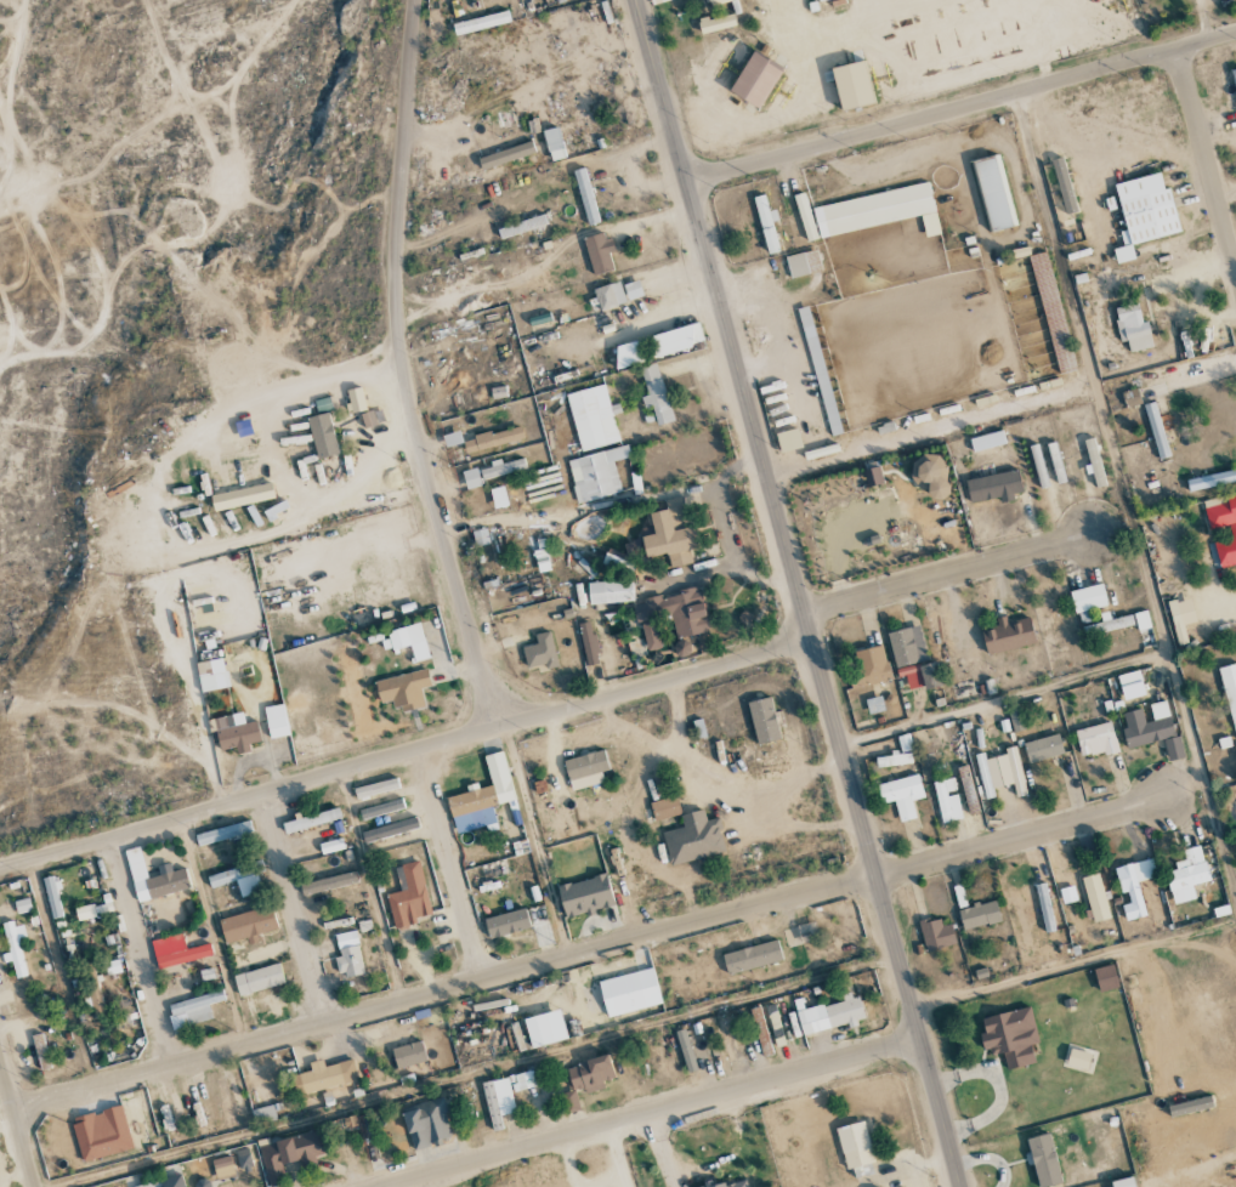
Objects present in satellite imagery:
building: (820, 0)
building: (657, 1)
building: (718, 1)
building: (481, 22)
building: (716, 23)
building: (1235, 74)
building: (755, 79)
building: (851, 85)
road: (959, 103)
building: (554, 143)
building: (506, 154)
road: (1206, 158)
building: (1064, 186)
building: (994, 193)
building: (585, 195)
building: (878, 210)
building: (1144, 212)
building: (805, 216)
building: (766, 225)
building: (521, 226)
building: (599, 252)
building: (803, 263)
building: (617, 294)
building: (1132, 328)
building: (670, 341)
building: (629, 353)
road: (406, 369)
building: (656, 394)
building: (355, 399)
building: (1156, 430)
building: (322, 436)
building: (452, 438)
building: (493, 439)
building: (788, 441)
building: (987, 441)
building: (1094, 461)
building: (1055, 462)
building: (1038, 466)
building: (503, 467)
building: (597, 473)
building: (930, 475)
building: (872, 477)
building: (471, 478)
building: (1211, 479)
building: (994, 487)
building: (242, 496)
building: (1223, 526)
building: (669, 534)
building: (542, 561)
road: (960, 570)
building: (610, 592)
road: (795, 592)
building: (1088, 598)
building: (675, 612)
building: (1141, 620)
building: (1107, 625)
building: (650, 635)
building: (1008, 635)
building: (409, 641)
building: (588, 643)
building: (540, 652)
building: (912, 659)
road: (1167, 664)
building: (872, 665)
building: (211, 675)
building: (1128, 678)
building: (403, 689)
building: (1230, 693)
building: (874, 705)
building: (276, 721)
building: (764, 721)
building: (1015, 721)
building: (1152, 729)
building: (236, 733)
building: (1096, 740)
building: (905, 743)
building: (1043, 748)
road: (404, 755)
building: (585, 769)
building: (1000, 772)
building: (376, 788)
building: (901, 795)
building: (482, 799)
building: (947, 800)
building: (381, 808)
building: (664, 808)
building: (311, 820)
building: (390, 829)
road: (1022, 833)
building: (223, 834)
building: (693, 839)
building: (330, 846)
road: (452, 865)
building: (1187, 874)
building: (239, 878)
building: (153, 879)
building: (329, 882)
building: (1134, 886)
building: (408, 896)
building: (585, 896)
building: (52, 897)
building: (1095, 897)
building: (1044, 907)
road: (295, 909)
building: (979, 914)
building: (1019, 915)
building: (506, 924)
building: (246, 925)
building: (798, 933)
building: (936, 933)
building: (15, 947)
building: (176, 952)
road: (140, 953)
building: (348, 955)
building: (752, 956)
building: (1105, 977)
building: (257, 979)
road: (441, 992)
building: (629, 993)
building: (193, 1010)
building: (830, 1015)
building: (545, 1028)
building: (760, 1030)
building: (1010, 1037)
building: (685, 1050)
building: (42, 1051)
building: (408, 1053)
building: (1078, 1060)
building: (590, 1073)
building: (324, 1077)
road: (1003, 1089)
building: (504, 1095)
building: (223, 1101)
building: (1190, 1106)
road: (645, 1112)
building: (262, 1114)
building: (348, 1121)
building: (426, 1123)
road: (16, 1128)
building: (101, 1132)
building: (855, 1145)
building: (291, 1154)
road: (991, 1159)
building: (1043, 1160)
building: (223, 1166)
building: (165, 1182)
building: (1123, 1182)
building: (726, 1183)

